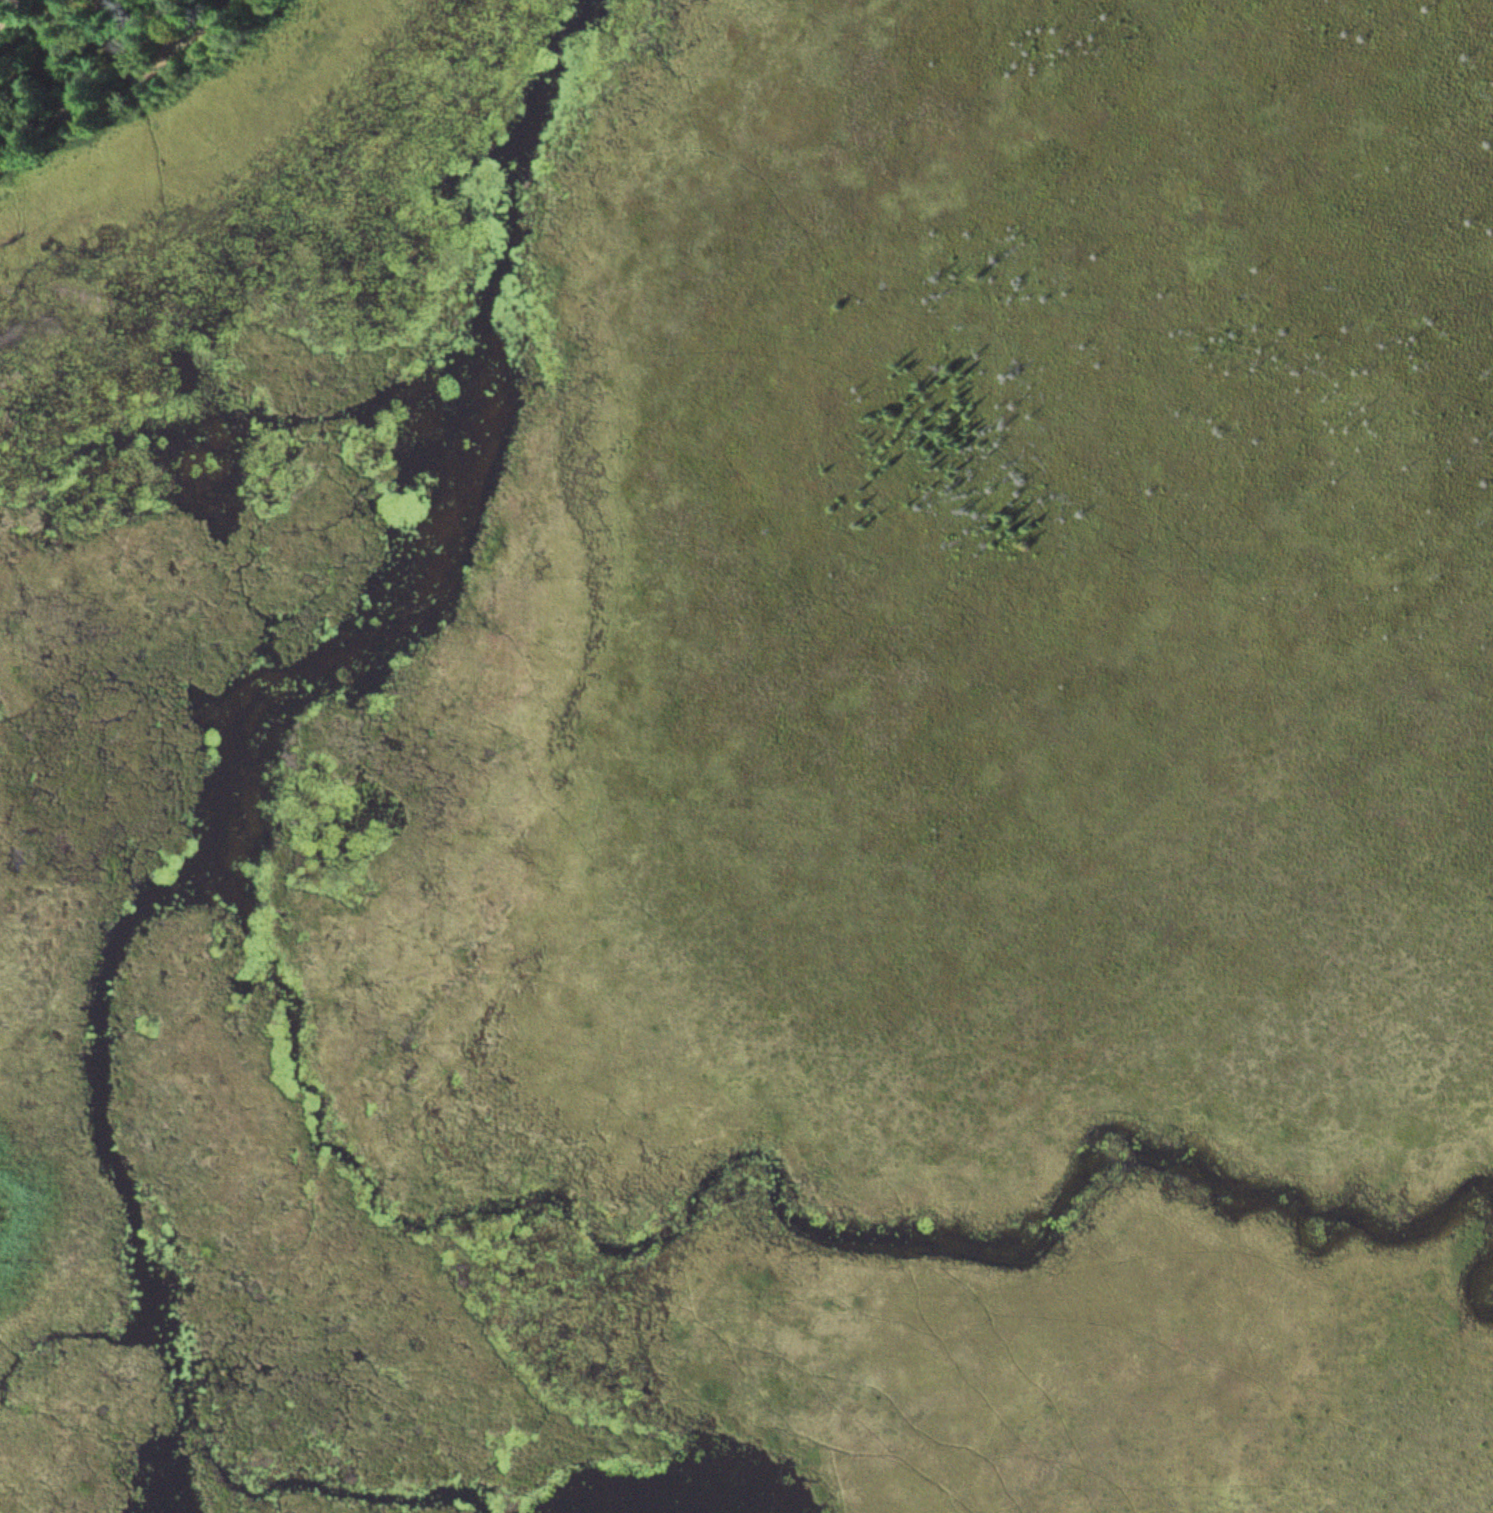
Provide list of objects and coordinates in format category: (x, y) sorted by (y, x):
road: (8, 11)

